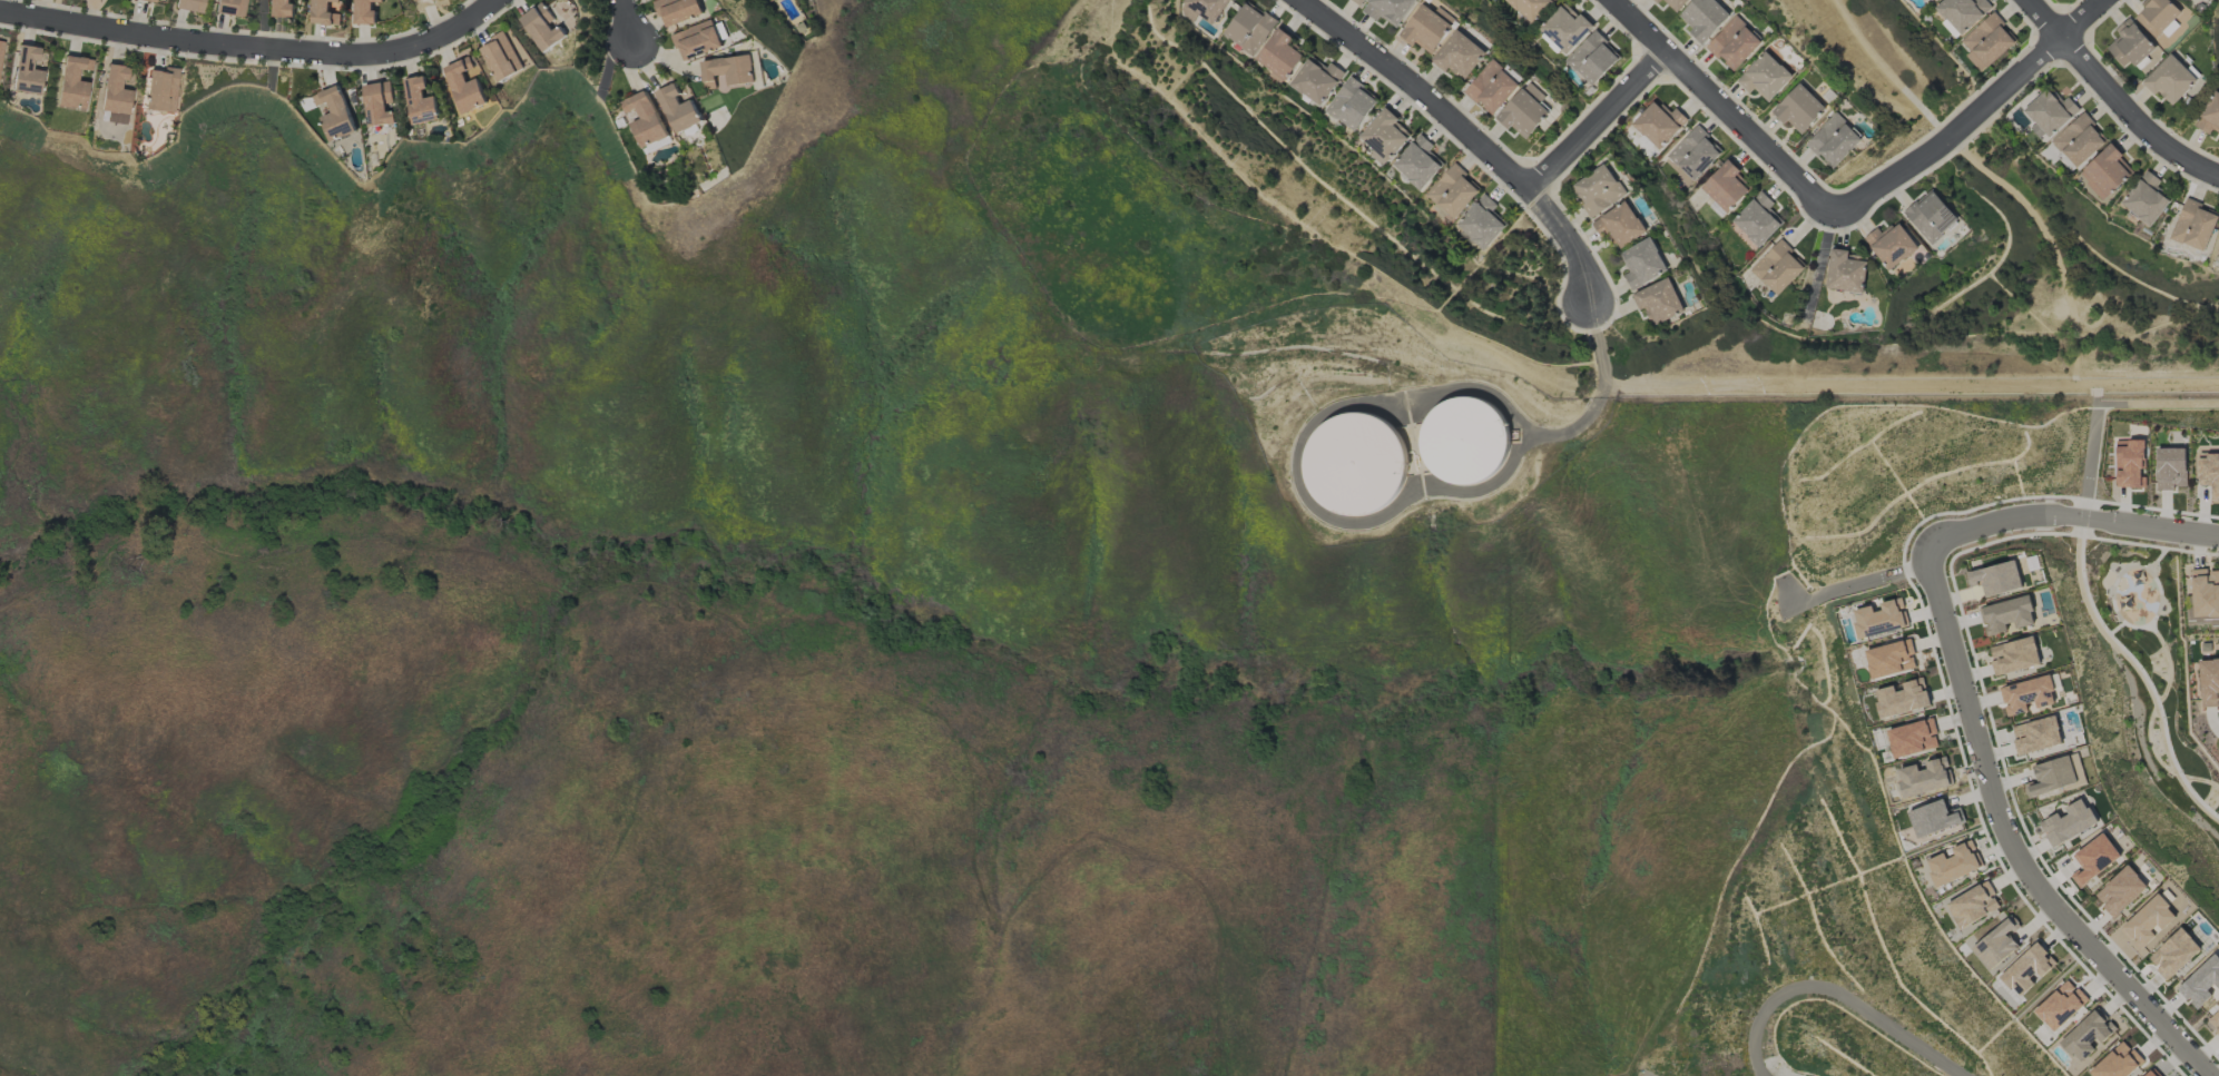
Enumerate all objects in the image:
building: (146, 0)
building: (420, 0)
building: (434, 0)
building: (1932, 0)
building: (1656, 1)
building: (1358, 2)
building: (1676, 3)
building: (190, 6)
building: (229, 8)
building: (283, 8)
building: (1531, 8)
building: (1202, 9)
building: (678, 10)
building: (1388, 10)
building: (366, 11)
building: (325, 12)
building: (1962, 12)
building: (2158, 14)
building: (1703, 18)
road: (631, 22)
building: (544, 28)
building: (1249, 28)
building: (1426, 29)
building: (1565, 29)
building: (697, 40)
building: (1986, 41)
building: (1734, 43)
building: (2129, 45)
road: (255, 48)
building: (0, 49)
building: (1460, 55)
building: (503, 57)
building: (1278, 57)
building: (1592, 58)
building: (727, 70)
building: (26, 71)
building: (1765, 77)
building: (2169, 80)
building: (72, 83)
building: (468, 86)
building: (1492, 87)
building: (161, 90)
building: (115, 96)
road: (2115, 98)
building: (422, 101)
building: (381, 103)
building: (1351, 105)
building: (1798, 108)
building: (678, 109)
road: (1729, 109)
building: (1525, 110)
building: (2050, 112)
building: (336, 113)
road: (1977, 113)
building: (2210, 115)
building: (645, 118)
road: (1600, 121)
building: (1659, 125)
building: (1384, 135)
road: (1471, 135)
building: (2079, 140)
building: (1834, 141)
building: (1693, 154)
building: (1417, 164)
building: (2104, 172)
building: (1725, 187)
building: (1599, 190)
building: (1452, 191)
building: (2147, 201)
building: (1931, 216)
building: (1757, 220)
building: (1481, 223)
building: (1620, 224)
building: (2193, 225)
building: (1892, 245)
building: (1643, 263)
building: (1777, 267)
building: (1845, 272)
building: (1659, 302)
road: (2102, 405)
building: (1464, 440)
building: (1355, 464)
building: (2129, 464)
building: (2171, 468)
building: (2209, 474)
road: (2069, 517)
building: (1995, 579)
building: (2205, 592)
building: (2006, 615)
building: (1878, 619)
road: (775, 654)
building: (2013, 655)
building: (1891, 659)
building: (2209, 682)
building: (2027, 695)
building: (1903, 698)
building: (2035, 736)
building: (1912, 739)
building: (2052, 776)
building: (1923, 778)
building: (1933, 818)
building: (2069, 823)
road: (2009, 845)
building: (2094, 859)
building: (1952, 865)
building: (2120, 891)
building: (1971, 905)
building: (2148, 921)
building: (1995, 945)
building: (2173, 954)
building: (2026, 970)
building: (2201, 981)
building: (2059, 1006)
building: (2215, 1021)
building: (2087, 1036)
building: (2117, 1063)
building: (2149, 1074)

